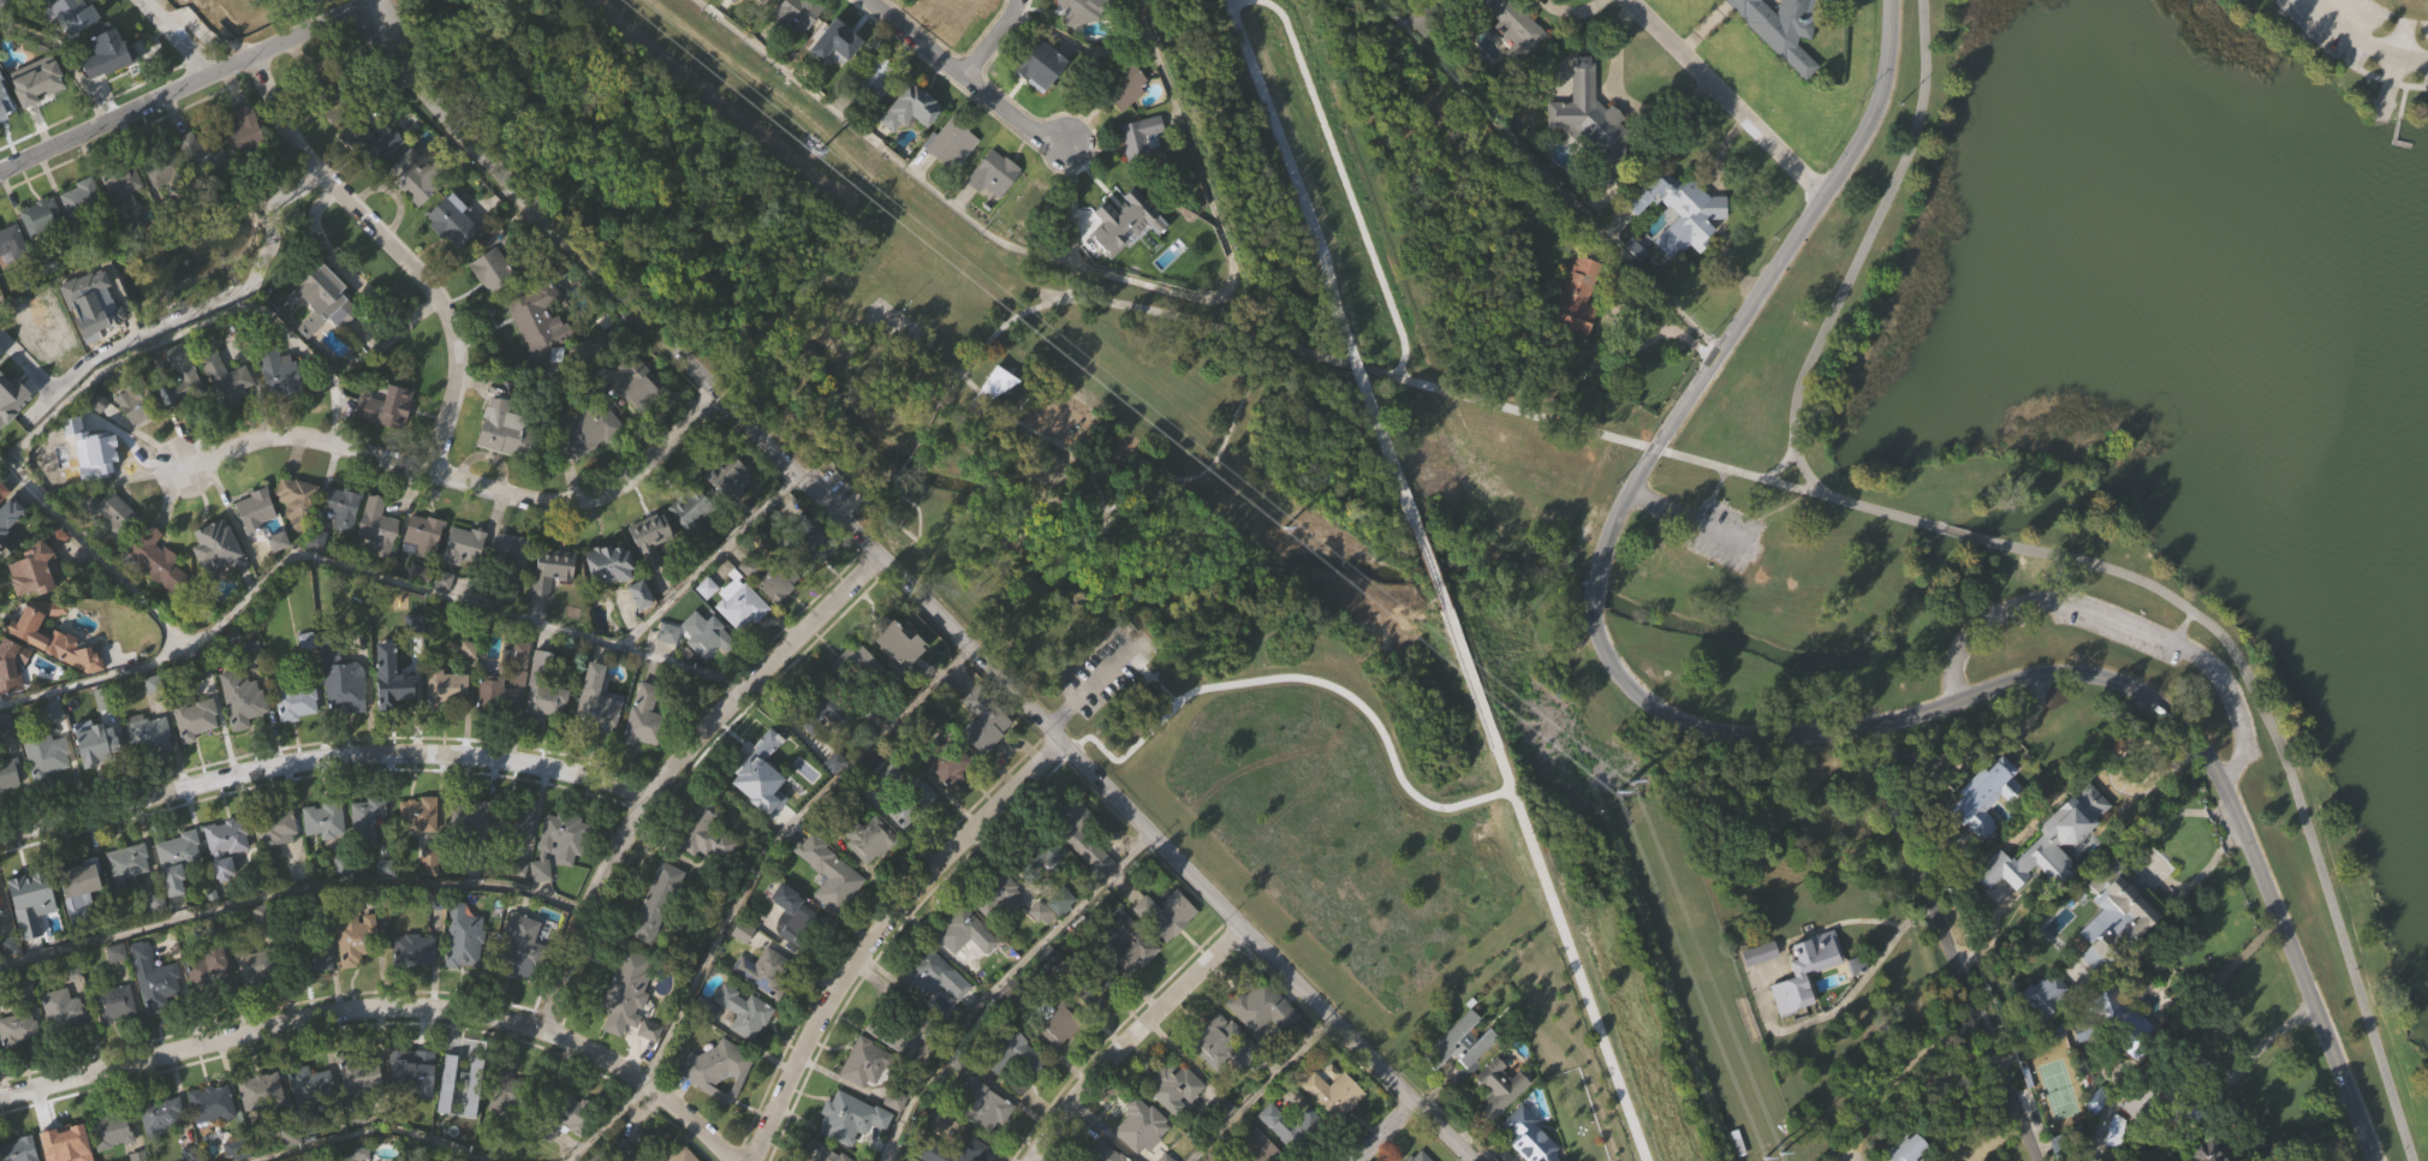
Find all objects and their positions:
building: (1459, 0)
building: (755, 2)
building: (222, 6)
building: (906, 7)
building: (942, 7)
building: (36, 8)
building: (1075, 10)
building: (72, 12)
building: (793, 14)
building: (1426, 17)
building: (1514, 20)
building: (947, 25)
building: (59, 26)
building: (1781, 29)
road: (315, 32)
parking lot: (2369, 36)
road: (178, 37)
road: (993, 41)
building: (1082, 41)
building: (832, 42)
road: (2363, 43)
building: (796, 48)
building: (75, 49)
building: (1772, 49)
building: (100, 52)
building: (1507, 52)
road: (69, 58)
road: (234, 65)
building: (1039, 65)
building: (349, 67)
building: (868, 77)
building: (837, 79)
road: (964, 79)
building: (38, 82)
building: (1123, 84)
building: (108, 88)
building: (7, 97)
road: (1726, 97)
building: (1042, 101)
building: (905, 108)
building: (877, 115)
building: (37, 117)
building: (1125, 121)
building: (1589, 121)
road: (106, 124)
building: (244, 133)
building: (4, 137)
building: (1136, 137)
building: (368, 139)
building: (950, 142)
building: (911, 145)
building: (1588, 150)
power tower: (816, 151)
building: (204, 153)
road: (1286, 165)
building: (245, 167)
building: (165, 168)
road: (1339, 172)
building: (992, 174)
building: (1138, 174)
road: (1542, 175)
building: (419, 178)
building: (371, 179)
building: (123, 180)
building: (952, 180)
building: (203, 187)
building: (84, 201)
building: (1118, 203)
building: (1033, 204)
building: (161, 207)
building: (994, 210)
building: (1678, 212)
building: (412, 216)
building: (43, 218)
building: (453, 221)
road: (1071, 222)
building: (126, 225)
building: (83, 233)
building: (11, 239)
building: (1121, 240)
building: (1031, 242)
building: (1680, 249)
road: (394, 251)
building: (42, 252)
building: (453, 257)
building: (495, 264)
road: (1076, 266)
building: (1179, 274)
building: (12, 280)
building: (1636, 285)
road: (1758, 291)
building: (328, 297)
building: (1573, 298)
road: (207, 303)
road: (1061, 303)
building: (493, 306)
road: (1834, 309)
building: (540, 325)
building: (326, 332)
building: (1577, 334)
building: (540, 358)
road: (1335, 361)
road: (1359, 365)
building: (280, 371)
building: (180, 374)
building: (226, 380)
building: (635, 381)
building: (983, 382)
building: (139, 403)
building: (94, 406)
building: (388, 409)
building: (281, 410)
building: (181, 412)
building: (228, 415)
building: (638, 418)
building: (999, 418)
building: (512, 425)
building: (587, 431)
building: (12, 434)
road: (1227, 437)
building: (137, 439)
road: (1621, 439)
road: (917, 442)
building: (387, 443)
road: (1392, 452)
park: (2058, 452)
building: (93, 456)
road: (1783, 464)
building: (506, 465)
building: (589, 469)
road: (465, 478)
building: (726, 482)
road: (1718, 484)
building: (4, 489)
building: (90, 490)
road: (879, 490)
building: (298, 501)
building: (344, 507)
building: (256, 510)
building: (691, 510)
building: (727, 512)
building: (109, 513)
road: (1111, 516)
road: (1737, 516)
road: (1691, 520)
building: (12, 525)
building: (379, 526)
power tower: (1284, 530)
building: (298, 534)
building: (426, 534)
road: (1966, 536)
parking lot: (1721, 537)
building: (276, 541)
building: (653, 541)
building: (344, 543)
building: (466, 544)
building: (256, 546)
building: (694, 547)
building: (112, 548)
building: (219, 548)
road: (1432, 553)
building: (511, 554)
building: (793, 555)
building: (157, 560)
building: (380, 561)
building: (615, 562)
building: (41, 564)
building: (650, 567)
building: (553, 568)
building: (423, 571)
park: (1453, 573)
building: (317, 574)
building: (279, 577)
building: (220, 579)
building: (464, 580)
road: (412, 587)
building: (511, 588)
building: (821, 589)
road: (1593, 590)
road: (909, 591)
building: (157, 595)
building: (611, 599)
building: (40, 600)
building: (557, 600)
building: (739, 602)
road: (1107, 605)
building: (421, 609)
building: (445, 615)
building: (779, 618)
road: (2119, 624)
building: (887, 627)
parking lot: (2121, 627)
road: (2180, 627)
building: (641, 630)
building: (696, 633)
building: (740, 639)
building: (416, 657)
building: (518, 660)
building: (12, 665)
building: (851, 668)
building: (700, 671)
building: (56, 672)
building: (308, 675)
road: (2093, 677)
building: (392, 678)
building: (343, 679)
building: (900, 680)
building: (447, 686)
building: (543, 687)
road: (1085, 690)
building: (498, 695)
building: (297, 697)
building: (522, 698)
building: (243, 699)
building: (13, 701)
building: (857, 703)
building: (106, 704)
building: (593, 708)
building: (816, 708)
building: (393, 713)
building: (196, 718)
building: (343, 718)
building: (642, 718)
building: (981, 720)
building: (447, 725)
building: (546, 726)
building: (496, 730)
building: (149, 732)
building: (245, 733)
building: (297, 738)
building: (597, 738)
building: (99, 746)
building: (645, 752)
building: (198, 755)
building: (48, 756)
building: (829, 756)
building: (984, 757)
building: (944, 761)
road: (321, 762)
road: (672, 768)
building: (149, 770)
building: (10, 772)
road: (2289, 772)
building: (96, 778)
building: (46, 790)
building: (1982, 797)
building: (835, 798)
building: (950, 798)
power tower: (1620, 798)
building: (910, 802)
building: (10, 810)
building: (761, 811)
building: (419, 812)
building: (468, 816)
building: (325, 818)
building: (368, 818)
building: (516, 822)
building: (2065, 824)
building: (275, 826)
building: (701, 830)
building: (1077, 832)
building: (1984, 833)
building: (228, 835)
building: (868, 839)
building: (914, 839)
building: (561, 843)
road: (778, 846)
building: (419, 850)
building: (471, 853)
building: (327, 856)
building: (367, 856)
building: (519, 857)
building: (1039, 858)
building: (179, 859)
road: (2144, 861)
building: (127, 863)
building: (276, 865)
building: (707, 869)
building: (1082, 871)
building: (870, 875)
building: (2049, 877)
building: (833, 879)
building: (560, 880)
road: (1549, 880)
building: (227, 881)
building: (79, 886)
building: (31, 888)
road: (290, 888)
building: (993, 893)
building: (1042, 893)
building: (179, 895)
building: (129, 898)
building: (657, 898)
building: (781, 898)
building: (1059, 901)
building: (519, 903)
building: (831, 910)
building: (0, 911)
building: (81, 915)
building: (2117, 916)
building: (1144, 928)
building: (962, 930)
building: (356, 933)
building: (791, 933)
road: (881, 933)
building: (31, 935)
building: (465, 936)
building: (657, 937)
building: (1052, 943)
building: (0, 945)
building: (522, 945)
road: (1947, 945)
building: (1167, 949)
building: (415, 951)
building: (2113, 951)
building: (313, 957)
building: (965, 966)
building: (256, 968)
building: (1804, 970)
building: (762, 971)
building: (465, 972)
building: (927, 972)
building: (356, 974)
building: (155, 977)
building: (520, 981)
building: (11, 982)
building: (1090, 983)
building: (213, 984)
road: (996, 984)
building: (1130, 986)
building: (415, 987)
building: (1760, 989)
building: (624, 990)
building: (317, 993)
building: (1007, 995)
building: (256, 1001)
building: (114, 1004)
building: (209, 1006)
building: (766, 1006)
building: (1805, 1006)
building: (1261, 1008)
building: (934, 1011)
building: (742, 1012)
building: (155, 1013)
road: (383, 1013)
building: (2101, 1013)
building: (67, 1018)
building: (1057, 1020)
building: (899, 1024)
building: (18, 1029)
building: (2045, 1029)
building: (630, 1031)
building: (1094, 1031)
building: (1210, 1037)
building: (115, 1038)
road: (1129, 1040)
building: (1459, 1043)
building: (64, 1044)
building: (1262, 1044)
building: (745, 1048)
building: (2121, 1049)
building: (1012, 1056)
building: (1060, 1060)
road: (2247, 1061)
building: (19, 1062)
building: (862, 1062)
building: (716, 1070)
building: (409, 1072)
building: (1215, 1072)
building: (359, 1074)
road: (1894, 1074)
building: (1462, 1078)
building: (457, 1083)
building: (1172, 1088)
building: (1499, 1088)
building: (262, 1091)
building: (1017, 1091)
building: (518, 1094)
building: (311, 1095)
building: (1331, 1095)
building: (865, 1099)
building: (213, 1103)
building: (981, 1103)
building: (415, 1105)
building: (719, 1105)
building: (2138, 1106)
building: (362, 1114)
building: (161, 1115)
building: (850, 1115)
building: (566, 1119)
building: (1283, 1121)
building: (1176, 1123)
building: (1500, 1123)
building: (507, 1124)
building: (1138, 1125)
building: (262, 1126)
building: (113, 1130)
building: (1341, 1131)
building: (2113, 1132)
road: (1385, 1133)
building: (895, 1136)
building: (1528, 1136)
building: (2138, 1136)
building: (65, 1137)
building: (2095, 1137)
building: (213, 1139)
building: (986, 1139)
road: (458, 1142)
building: (1225, 1142)
building: (163, 1147)
building: (567, 1147)
building: (853, 1148)
building: (1258, 1148)
building: (239, 1149)
building: (950, 1149)
building: (1144, 1149)
building: (19, 1150)
building: (648, 1150)
building: (1906, 1151)
building: (820, 1153)
building: (1305, 1153)
building: (2207, 1153)
building: (1100, 1154)
building: (356, 1155)
building: (114, 1156)
building: (138, 1156)
building: (2118, 1156)
building: (597, 1157)
building: (1417, 1157)
power tower: (1767, 1160)

